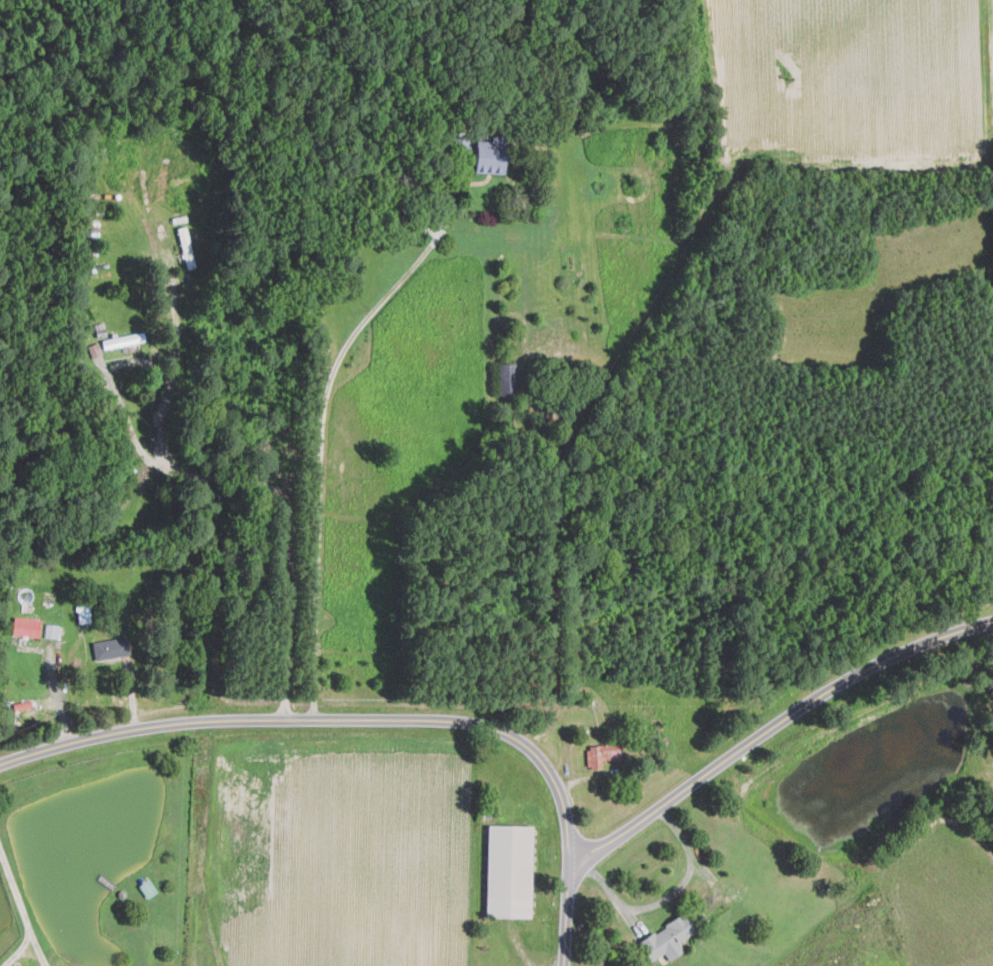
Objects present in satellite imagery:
building: (490, 155)
building: (124, 339)
building: (508, 378)
road: (324, 425)
road: (233, 480)
building: (84, 613)
building: (26, 626)
building: (51, 630)
building: (111, 647)
road: (379, 719)
road: (772, 729)
building: (602, 754)
building: (508, 870)
building: (146, 889)
road: (20, 911)
building: (666, 938)

